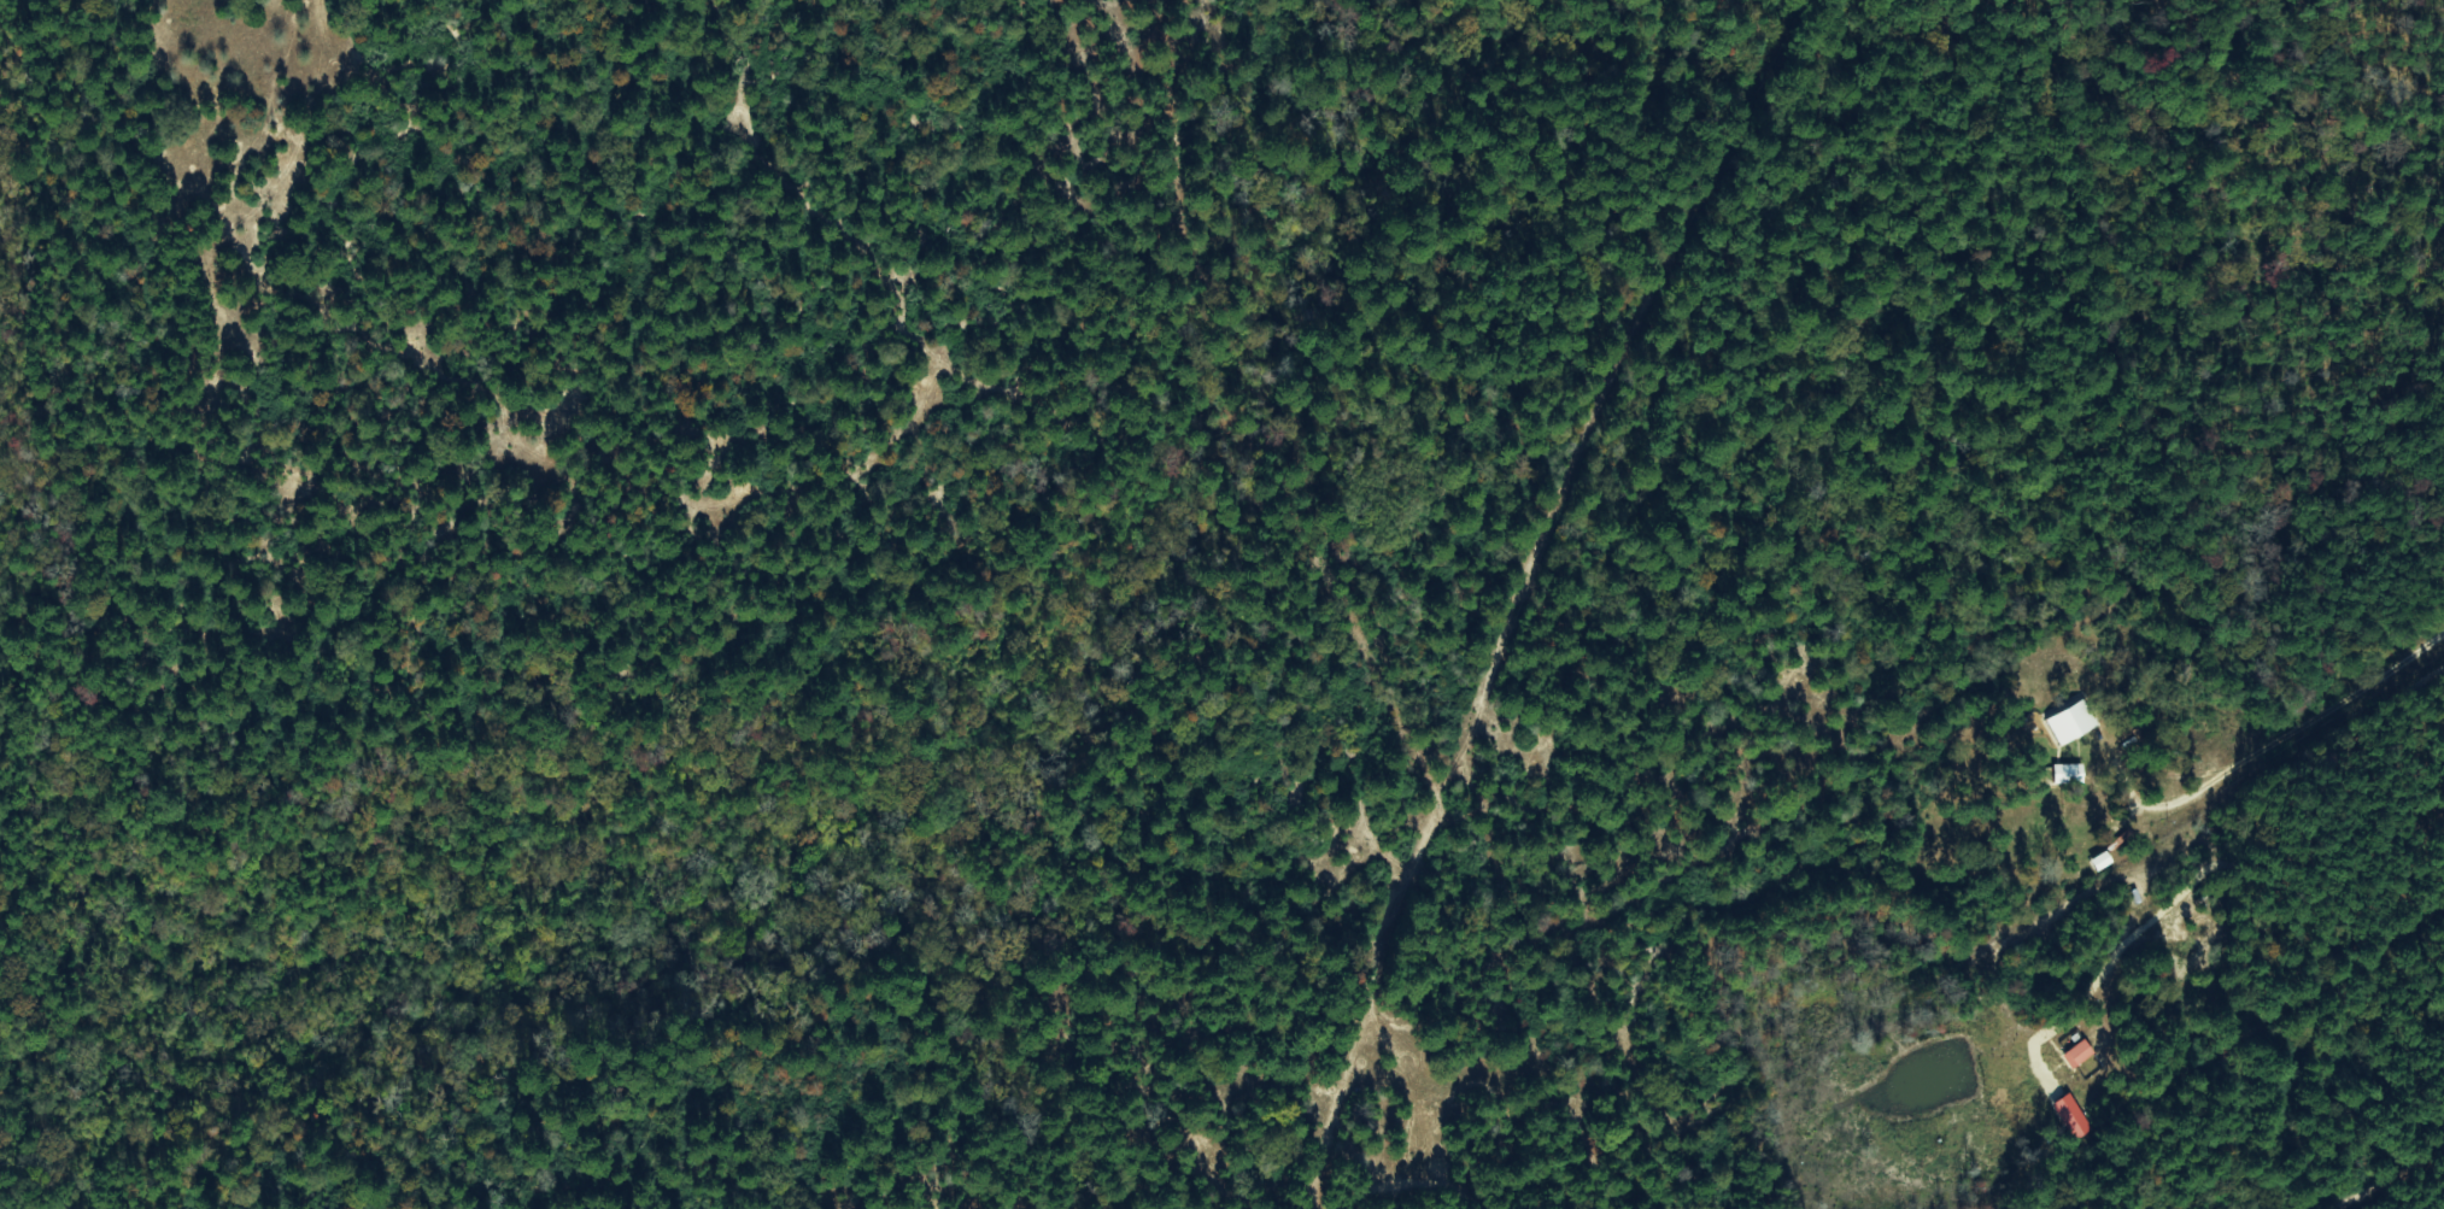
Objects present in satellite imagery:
building: (2073, 723)
building: (2069, 774)
building: (2102, 862)
road: (1945, 919)
building: (2079, 1055)
building: (2071, 1117)

